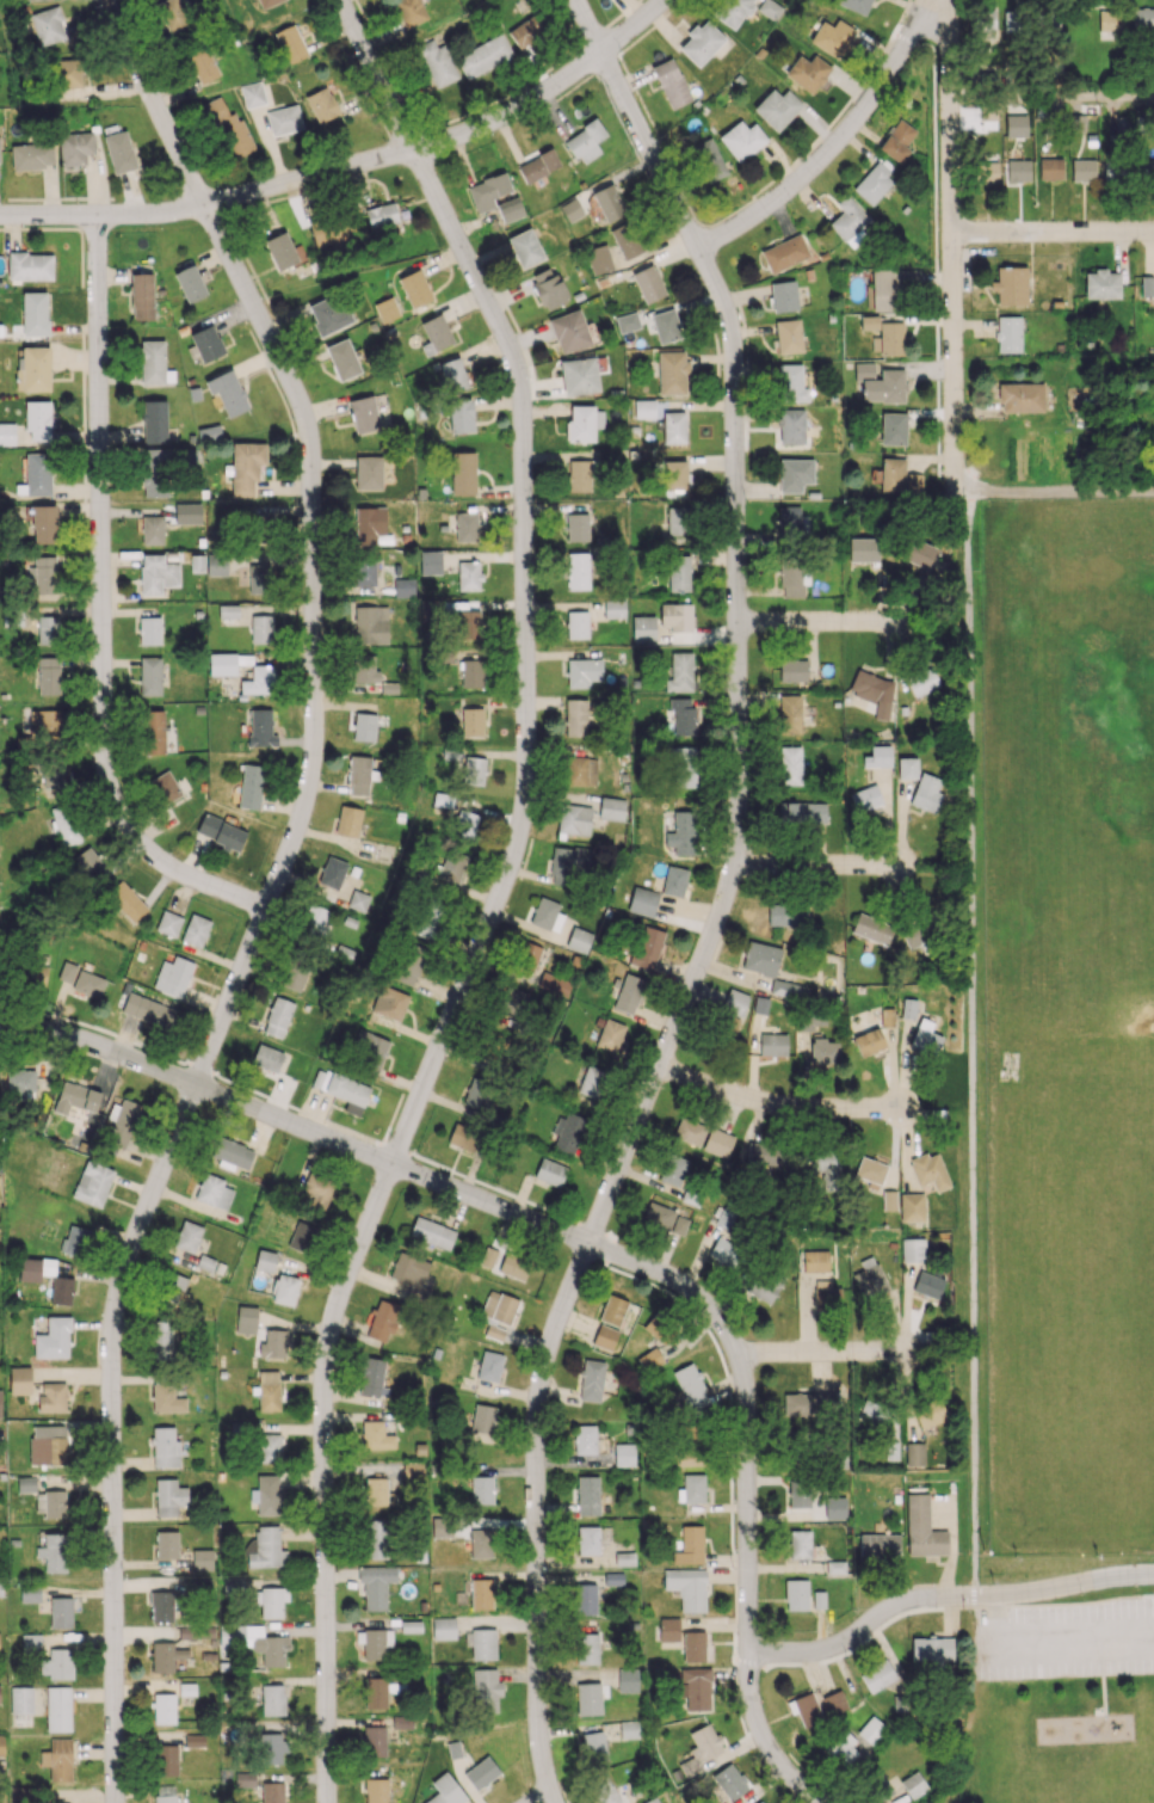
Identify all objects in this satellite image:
building: (266, 2)
building: (854, 5)
building: (769, 8)
building: (408, 12)
building: (733, 12)
building: (172, 14)
building: (1143, 18)
building: (987, 19)
building: (1010, 20)
building: (1110, 20)
building: (48, 25)
road: (632, 29)
building: (526, 32)
building: (832, 37)
building: (290, 43)
building: (701, 43)
building: (483, 56)
building: (202, 63)
building: (436, 63)
road: (368, 66)
building: (66, 73)
building: (807, 73)
building: (671, 84)
building: (252, 94)
road: (1053, 98)
road: (158, 105)
building: (321, 105)
building: (777, 107)
road: (508, 111)
building: (1016, 118)
building: (284, 119)
building: (227, 129)
road: (403, 140)
building: (742, 140)
building: (585, 141)
building: (897, 141)
road: (833, 144)
building: (74, 148)
building: (119, 152)
building: (31, 155)
building: (708, 160)
building: (537, 167)
building: (1050, 168)
building: (1144, 168)
building: (1018, 170)
building: (1082, 170)
building: (1112, 171)
building: (989, 172)
building: (874, 181)
building: (487, 190)
building: (607, 202)
road: (208, 209)
building: (510, 209)
building: (570, 210)
building: (850, 221)
road: (1051, 234)
building: (625, 240)
road: (950, 244)
building: (525, 247)
building: (283, 250)
building: (784, 253)
building: (598, 259)
building: (30, 265)
building: (190, 283)
building: (648, 284)
building: (1101, 284)
building: (1010, 285)
building: (890, 287)
building: (1147, 287)
building: (547, 288)
building: (414, 289)
building: (141, 296)
building: (783, 296)
building: (385, 309)
building: (35, 313)
building: (327, 314)
building: (627, 322)
building: (666, 326)
building: (569, 331)
building: (434, 334)
building: (885, 334)
building: (1008, 334)
building: (788, 337)
building: (205, 343)
building: (343, 358)
building: (153, 363)
road: (1053, 369)
building: (32, 370)
building: (863, 370)
building: (672, 373)
building: (453, 374)
building: (579, 376)
building: (791, 383)
building: (884, 387)
building: (227, 392)
building: (1020, 398)
building: (643, 408)
building: (363, 414)
building: (459, 416)
building: (37, 419)
building: (154, 421)
building: (584, 423)
building: (791, 426)
building: (673, 427)
building: (893, 429)
building: (7, 433)
building: (209, 433)
building: (246, 468)
building: (368, 472)
building: (153, 473)
building: (462, 473)
building: (37, 474)
building: (794, 474)
building: (580, 475)
building: (674, 475)
road: (1054, 493)
building: (788, 519)
building: (678, 521)
building: (43, 524)
building: (369, 524)
building: (465, 527)
building: (576, 528)
building: (152, 530)
building: (863, 549)
building: (918, 553)
building: (430, 562)
building: (239, 570)
building: (578, 571)
building: (156, 573)
building: (678, 573)
building: (468, 576)
building: (42, 577)
building: (790, 578)
building: (377, 580)
building: (613, 609)
road: (104, 611)
building: (227, 611)
building: (674, 615)
road: (815, 622)
building: (467, 623)
building: (370, 624)
building: (576, 624)
building: (261, 628)
building: (643, 628)
building: (47, 629)
building: (149, 630)
building: (226, 663)
building: (792, 670)
building: (582, 672)
building: (679, 672)
building: (369, 673)
building: (471, 673)
building: (48, 675)
building: (149, 676)
building: (258, 681)
building: (921, 681)
building: (874, 693)
building: (791, 714)
building: (684, 715)
building: (575, 716)
building: (471, 721)
building: (45, 722)
building: (364, 727)
building: (260, 728)
building: (153, 732)
building: (877, 757)
building: (790, 765)
building: (680, 767)
building: (906, 768)
building: (473, 770)
building: (580, 771)
building: (50, 775)
building: (358, 775)
building: (251, 786)
building: (163, 787)
building: (925, 793)
building: (865, 798)
building: (443, 800)
building: (611, 808)
building: (801, 812)
building: (573, 819)
building: (347, 821)
building: (463, 823)
building: (64, 824)
building: (220, 832)
building: (681, 832)
building: (570, 862)
building: (86, 863)
building: (451, 866)
road: (816, 866)
building: (332, 872)
building: (674, 881)
road: (724, 900)
building: (125, 901)
building: (642, 901)
building: (788, 912)
building: (547, 915)
building: (315, 921)
building: (167, 923)
building: (427, 924)
building: (872, 929)
building: (195, 930)
building: (914, 936)
building: (579, 940)
building: (646, 948)
building: (526, 955)
building: (760, 958)
building: (408, 964)
building: (295, 972)
road: (474, 972)
building: (33, 974)
building: (173, 976)
building: (82, 980)
building: (554, 983)
building: (628, 995)
road: (232, 998)
building: (734, 1002)
building: (389, 1003)
building: (512, 1003)
building: (148, 1010)
building: (277, 1016)
building: (809, 1022)
building: (730, 1024)
park: (1069, 1024)
building: (610, 1034)
building: (875, 1035)
building: (925, 1036)
road: (969, 1041)
building: (772, 1044)
building: (823, 1051)
building: (368, 1052)
building: (266, 1058)
building: (591, 1082)
building: (19, 1083)
building: (341, 1090)
building: (476, 1093)
building: (75, 1099)
road: (775, 1106)
building: (123, 1121)
building: (689, 1131)
building: (568, 1132)
building: (462, 1138)
building: (717, 1143)
building: (230, 1153)
road: (384, 1162)
building: (827, 1167)
building: (673, 1169)
building: (928, 1170)
building: (549, 1171)
building: (870, 1171)
building: (92, 1183)
building: (315, 1190)
building: (212, 1192)
building: (888, 1200)
building: (911, 1207)
building: (658, 1216)
building: (679, 1225)
building: (431, 1233)
building: (187, 1236)
building: (301, 1237)
building: (74, 1241)
building: (912, 1249)
building: (723, 1250)
building: (488, 1257)
building: (264, 1260)
building: (815, 1261)
building: (513, 1266)
building: (35, 1268)
building: (411, 1274)
building: (869, 1279)
building: (173, 1285)
building: (927, 1285)
building: (761, 1286)
building: (284, 1290)
building: (61, 1291)
building: (826, 1294)
building: (499, 1306)
building: (612, 1310)
building: (246, 1319)
building: (382, 1321)
building: (653, 1327)
building: (494, 1330)
building: (604, 1337)
building: (53, 1339)
building: (161, 1341)
building: (273, 1343)
road: (819, 1352)
building: (650, 1359)
building: (489, 1366)
building: (371, 1378)
building: (19, 1380)
building: (591, 1380)
building: (690, 1386)
building: (267, 1390)
building: (51, 1397)
building: (166, 1397)
building: (0, 1403)
building: (807, 1404)
building: (874, 1414)
building: (930, 1415)
building: (482, 1422)
building: (376, 1435)
building: (584, 1439)
building: (47, 1444)
building: (163, 1447)
building: (270, 1448)
building: (890, 1450)
building: (623, 1454)
building: (687, 1454)
building: (914, 1454)
building: (412, 1471)
building: (25, 1484)
building: (691, 1489)
building: (481, 1490)
building: (375, 1493)
building: (800, 1493)
building: (269, 1495)
building: (587, 1495)
building: (169, 1497)
building: (50, 1503)
building: (834, 1508)
building: (440, 1527)
building: (922, 1528)
building: (376, 1539)
building: (587, 1540)
building: (480, 1543)
building: (166, 1544)
building: (878, 1544)
building: (690, 1545)
building: (802, 1545)
building: (265, 1549)
building: (53, 1552)
building: (623, 1558)
building: (202, 1559)
building: (375, 1586)
building: (686, 1588)
building: (0, 1589)
road: (746, 1590)
building: (29, 1593)
building: (481, 1594)
building: (796, 1594)
road: (943, 1595)
building: (584, 1599)
building: (817, 1600)
building: (272, 1601)
building: (161, 1606)
building: (60, 1612)
road: (994, 1619)
building: (443, 1627)
building: (668, 1630)
parking lot: (1063, 1641)
road: (1075, 1641)
building: (30, 1642)
building: (257, 1642)
building: (374, 1643)
building: (481, 1643)
building: (693, 1647)
building: (586, 1648)
building: (931, 1648)
building: (165, 1657)
building: (56, 1663)
building: (877, 1675)
building: (628, 1680)
building: (695, 1687)
building: (486, 1690)
building: (375, 1693)
building: (588, 1698)
building: (20, 1700)
building: (272, 1700)
building: (833, 1703)
park: (1056, 1704)
building: (163, 1707)
building: (57, 1709)
building: (807, 1709)
building: (401, 1722)
building: (629, 1729)
building: (871, 1730)
building: (374, 1741)
building: (1, 1744)
building: (593, 1747)
building: (271, 1748)
building: (846, 1748)
building: (701, 1749)
building: (57, 1759)
building: (165, 1760)
building: (481, 1772)
building: (243, 1778)
building: (729, 1780)
building: (913, 1784)
building: (376, 1790)
building: (445, 1790)
building: (604, 1790)
building: (272, 1792)
building: (165, 1793)
road: (545, 1799)
building: (654, 1801)
building: (759, 1802)
building: (934, 1802)

